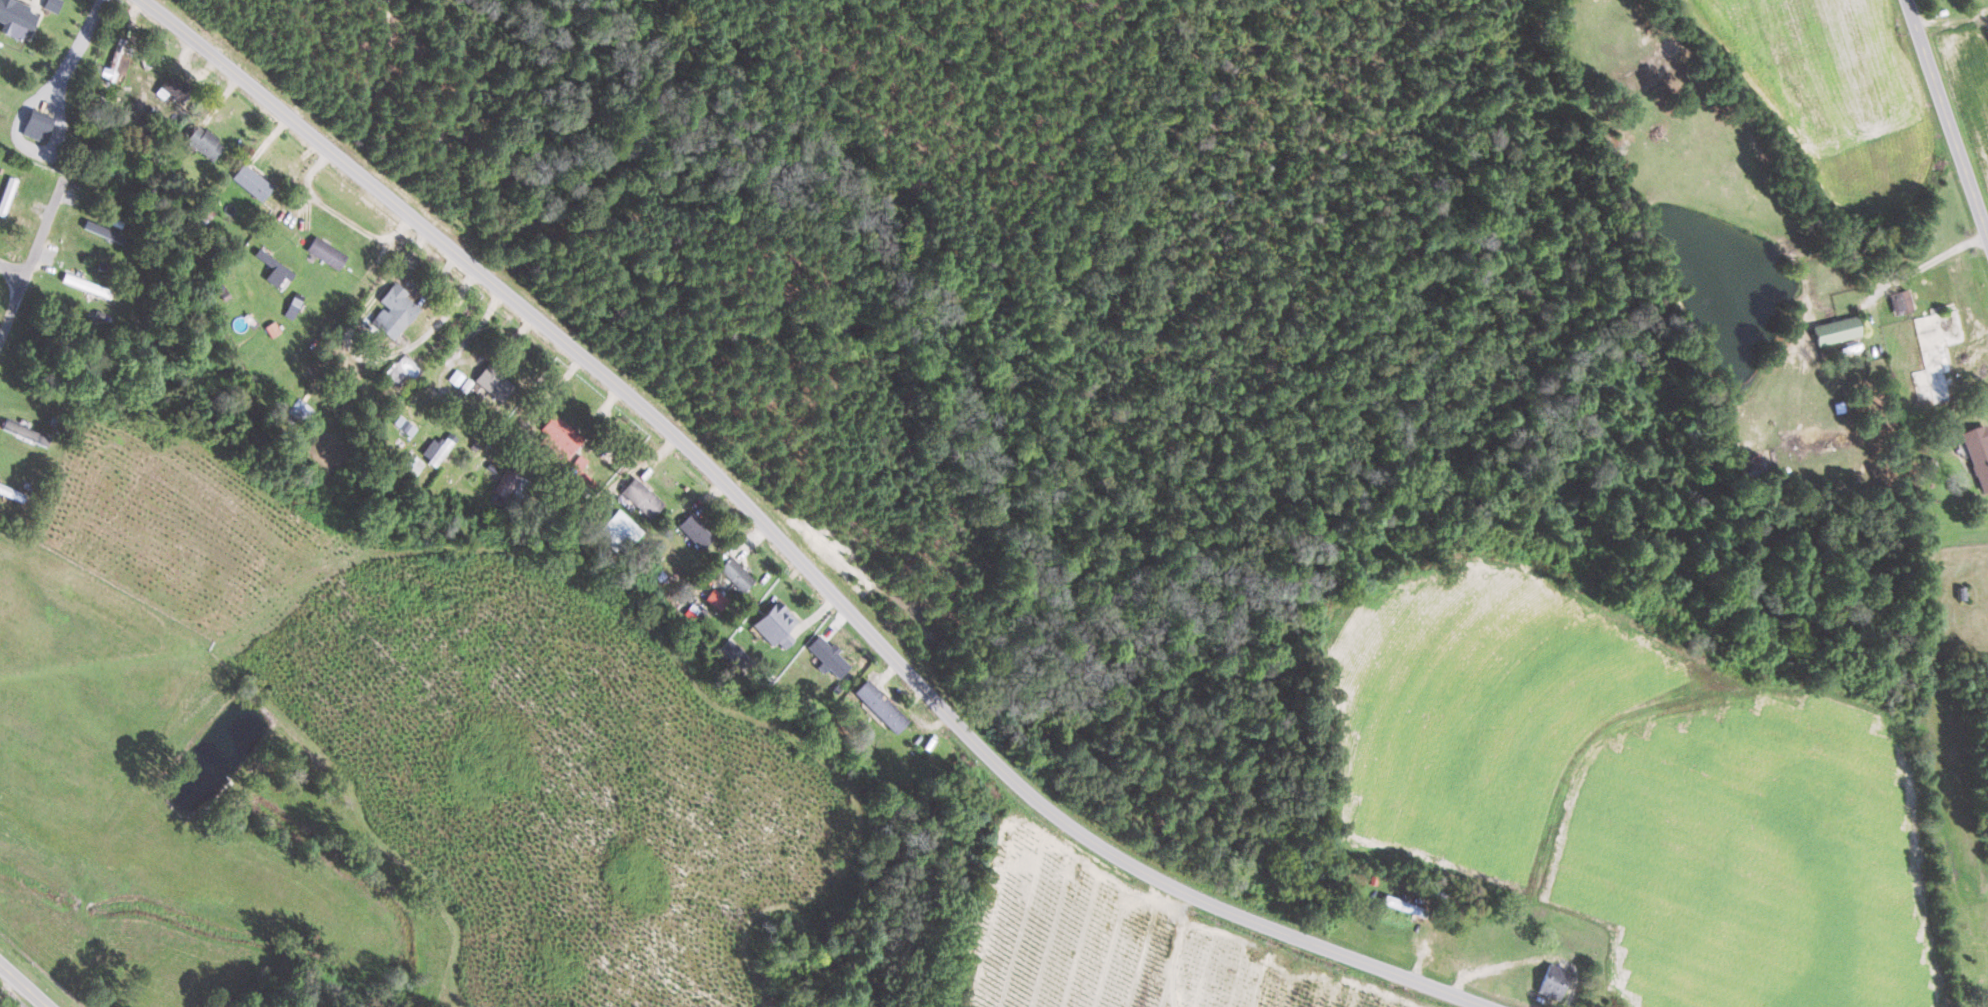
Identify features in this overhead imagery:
building: (52, 5)
road: (1948, 17)
building: (15, 18)
road: (79, 44)
building: (171, 87)
building: (37, 126)
road: (1944, 129)
building: (204, 142)
building: (252, 182)
building: (7, 195)
road: (339, 215)
road: (42, 231)
building: (104, 231)
building: (326, 253)
road: (1925, 260)
building: (274, 268)
road: (19, 292)
building: (1900, 302)
building: (394, 312)
building: (1837, 330)
road: (357, 352)
building: (398, 371)
building: (494, 383)
building: (300, 411)
building: (405, 426)
building: (560, 438)
building: (1978, 453)
building: (412, 464)
building: (582, 472)
building: (506, 483)
building: (642, 498)
building: (620, 532)
building: (696, 532)
road: (778, 546)
building: (736, 573)
building: (775, 623)
building: (828, 656)
building: (881, 705)
building: (1553, 981)
road: (19, 989)

